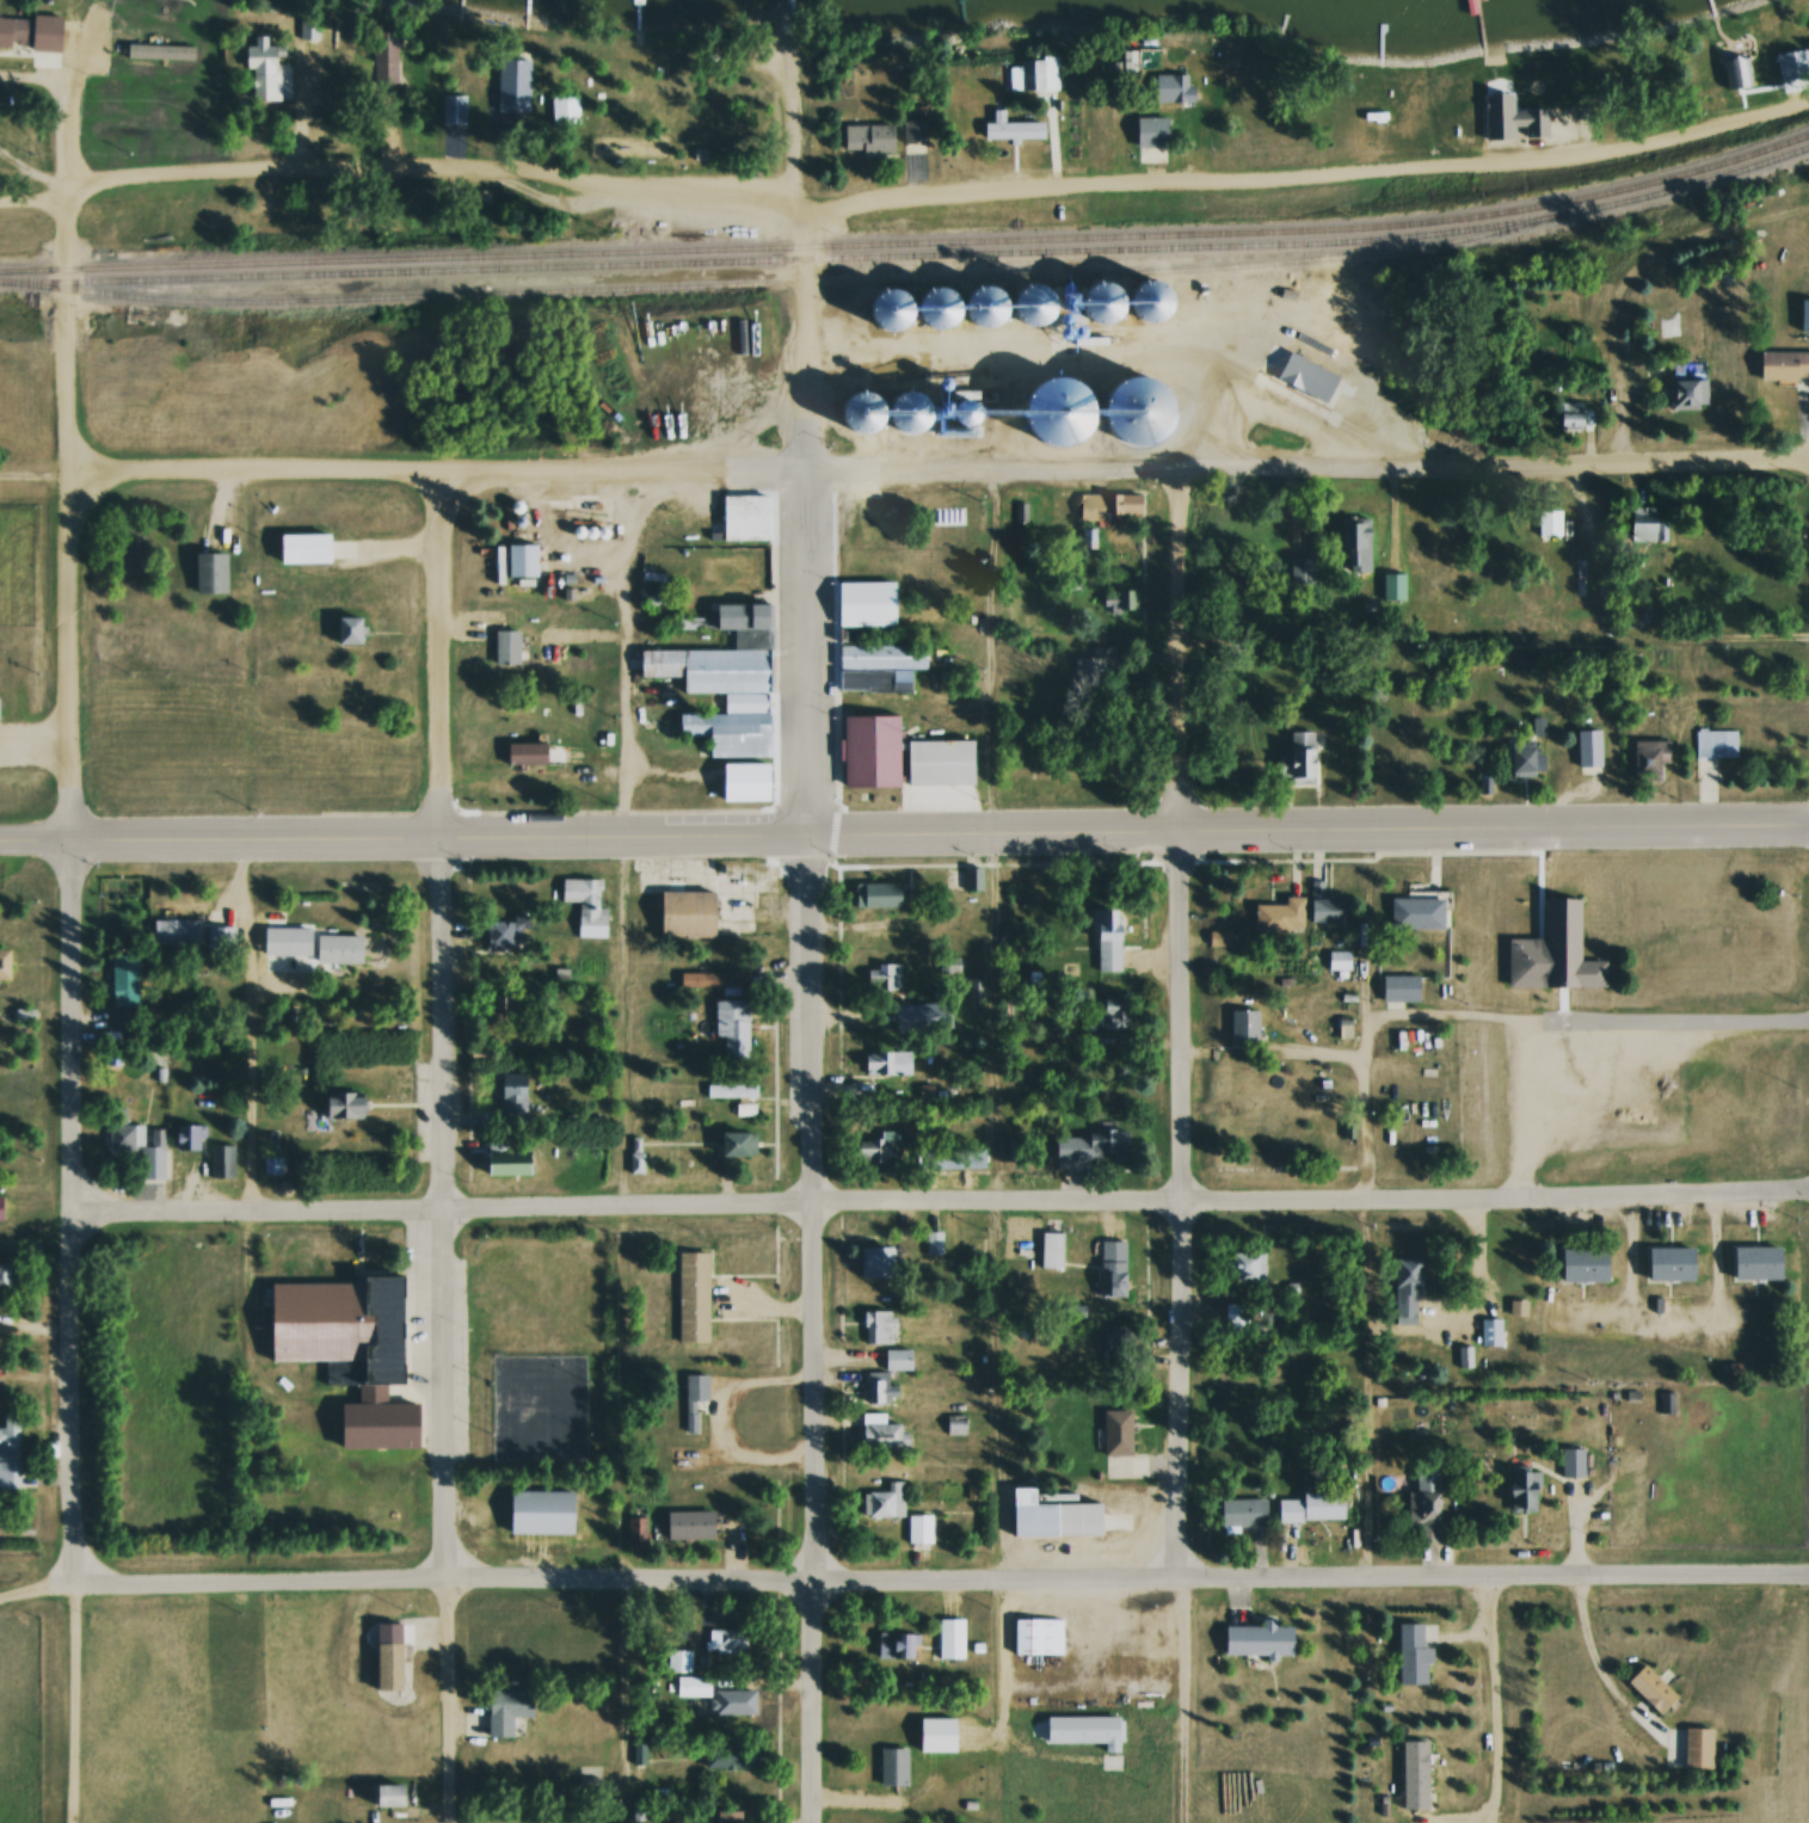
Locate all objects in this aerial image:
building: (306, 27)
building: (51, 30)
building: (104, 32)
building: (165, 50)
building: (258, 70)
building: (1734, 73)
building: (1032, 75)
building: (511, 86)
building: (1170, 90)
building: (451, 110)
building: (564, 110)
building: (1010, 130)
building: (1150, 131)
building: (912, 137)
building: (870, 140)
road: (933, 195)
road: (806, 236)
railway: (910, 242)
railway: (910, 255)
railway: (804, 282)
road: (1638, 283)
building: (1163, 298)
building: (1113, 300)
building: (1044, 303)
building: (997, 306)
building: (894, 309)
building: (946, 309)
building: (1803, 316)
building: (1783, 367)
building: (1303, 377)
building: (1686, 388)
building: (1143, 409)
building: (917, 411)
building: (972, 411)
building: (1062, 411)
building: (864, 412)
building: (1570, 415)
road: (904, 475)
building: (1132, 503)
building: (1096, 506)
building: (751, 517)
building: (1548, 523)
building: (1639, 523)
building: (1085, 538)
building: (1355, 541)
building: (310, 548)
building: (527, 560)
building: (1300, 569)
building: (215, 573)
building: (1562, 577)
building: (1392, 585)
building: (870, 604)
building: (750, 614)
building: (344, 629)
building: (756, 639)
building: (511, 646)
building: (886, 654)
building: (664, 663)
building: (1089, 669)
building: (730, 670)
building: (878, 679)
building: (747, 703)
building: (1076, 723)
building: (731, 732)
building: (1715, 744)
building: (1587, 747)
building: (868, 750)
building: (533, 753)
building: (1299, 757)
building: (1525, 758)
building: (1645, 758)
building: (946, 760)
building: (749, 781)
road: (68, 805)
road: (1496, 832)
road: (591, 843)
building: (971, 876)
building: (875, 893)
building: (584, 900)
building: (1323, 906)
building: (691, 912)
building: (1415, 913)
building: (1278, 916)
building: (879, 922)
building: (973, 922)
building: (173, 932)
building: (502, 934)
building: (1106, 940)
building: (219, 944)
building: (336, 948)
building: (1552, 950)
building: (4, 963)
building: (948, 965)
building: (884, 975)
building: (710, 979)
building: (974, 986)
building: (1398, 989)
building: (123, 990)
building: (504, 1008)
building: (1113, 1012)
building: (1242, 1026)
building: (731, 1027)
road: (1187, 1028)
building: (885, 1063)
building: (728, 1090)
building: (511, 1098)
building: (339, 1105)
road: (822, 1126)
building: (184, 1138)
building: (728, 1143)
building: (136, 1144)
building: (1089, 1146)
building: (881, 1147)
road: (447, 1150)
building: (948, 1158)
building: (221, 1160)
building: (503, 1163)
building: (635, 1163)
road: (1500, 1201)
road: (1007, 1202)
road: (451, 1212)
building: (931, 1243)
building: (1050, 1250)
building: (873, 1262)
building: (1754, 1262)
building: (1667, 1263)
building: (1581, 1264)
building: (1245, 1265)
building: (1110, 1268)
building: (2, 1276)
building: (1518, 1280)
building: (1404, 1292)
building: (690, 1297)
building: (1233, 1318)
building: (876, 1328)
building: (1489, 1332)
building: (1116, 1342)
building: (347, 1348)
building: (896, 1361)
building: (695, 1388)
building: (878, 1390)
building: (1665, 1403)
building: (689, 1422)
building: (1114, 1431)
building: (876, 1433)
building: (8, 1451)
building: (1570, 1462)
building: (1520, 1489)
building: (882, 1502)
building: (1422, 1505)
building: (1310, 1507)
building: (544, 1509)
building: (1241, 1511)
building: (1048, 1517)
building: (687, 1526)
building: (634, 1531)
building: (917, 1532)
road: (42, 1595)
building: (1035, 1637)
building: (948, 1639)
building: (721, 1640)
building: (1256, 1640)
building: (893, 1646)
building: (392, 1652)
building: (1410, 1656)
building: (691, 1688)
building: (1649, 1689)
building: (731, 1702)
road: (85, 1707)
building: (496, 1712)
building: (1082, 1731)
building: (939, 1735)
building: (1696, 1749)
building: (728, 1757)
building: (892, 1767)
building: (1413, 1775)
building: (384, 1796)
building: (725, 1816)

